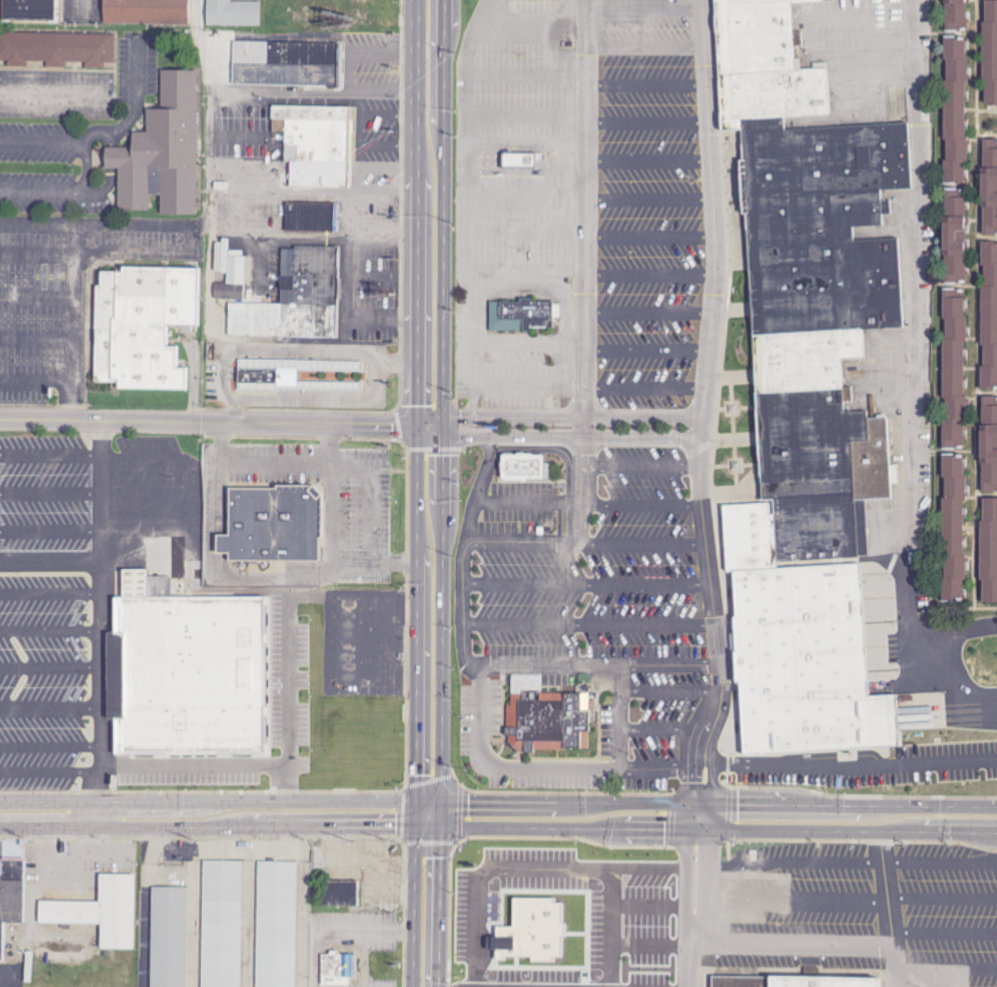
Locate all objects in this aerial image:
road: (648, 6)
building: (26, 10)
building: (146, 12)
building: (233, 13)
building: (962, 16)
road: (535, 29)
road: (950, 37)
road: (649, 45)
building: (57, 49)
building: (993, 61)
building: (285, 64)
road: (592, 75)
road: (52, 92)
building: (963, 115)
road: (594, 117)
road: (988, 119)
building: (315, 145)
road: (988, 145)
building: (162, 152)
road: (652, 159)
building: (519, 161)
building: (524, 167)
building: (992, 193)
road: (596, 195)
building: (311, 217)
road: (598, 231)
building: (961, 238)
road: (189, 239)
road: (40, 256)
road: (596, 270)
road: (586, 274)
building: (232, 281)
road: (79, 282)
road: (951, 286)
road: (39, 297)
building: (296, 299)
road: (476, 309)
road: (650, 311)
building: (517, 315)
road: (978, 319)
building: (992, 322)
building: (141, 323)
road: (39, 339)
road: (594, 346)
building: (814, 352)
road: (922, 356)
road: (365, 360)
road: (406, 369)
building: (959, 370)
road: (38, 381)
building: (274, 383)
parking lot: (589, 394)
road: (431, 407)
road: (708, 410)
road: (215, 423)
traffic signals: (432, 427)
road: (569, 430)
building: (993, 450)
road: (51, 453)
road: (949, 458)
road: (255, 464)
road: (645, 472)
building: (531, 473)
road: (51, 492)
road: (367, 494)
road: (595, 507)
road: (51, 530)
building: (280, 530)
building: (959, 532)
road: (332, 541)
road: (593, 549)
building: (990, 558)
road: (51, 562)
road: (593, 591)
road: (51, 593)
road: (102, 618)
road: (51, 630)
road: (595, 631)
road: (289, 635)
road: (51, 666)
road: (477, 670)
building: (195, 677)
road: (673, 698)
road: (50, 707)
building: (553, 724)
road: (621, 724)
road: (665, 737)
road: (50, 747)
road: (716, 762)
road: (194, 766)
road: (864, 768)
road: (50, 770)
road: (542, 778)
road: (213, 815)
traffic signals: (427, 815)
road: (712, 817)
road: (789, 861)
road: (941, 862)
building: (338, 893)
building: (10, 894)
road: (792, 897)
road: (942, 899)
road: (423, 900)
road: (696, 902)
road: (888, 902)
building: (100, 911)
building: (223, 923)
building: (278, 924)
road: (944, 934)
building: (169, 936)
road: (795, 946)
building: (337, 968)
road: (947, 968)
building: (782, 981)

